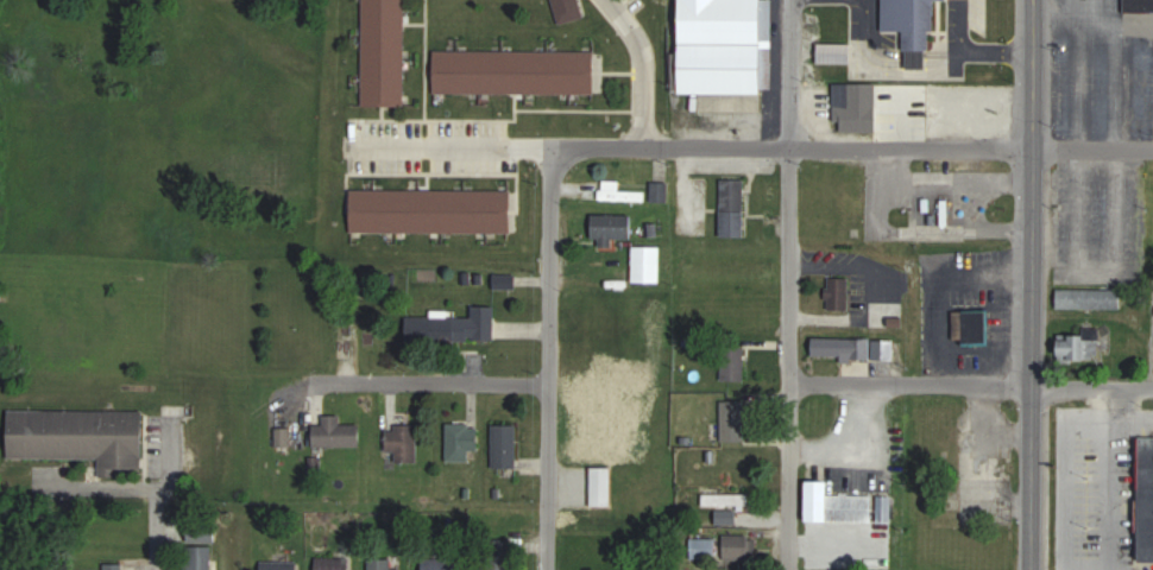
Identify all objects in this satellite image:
building: (1139, 6)
building: (568, 9)
road: (1092, 15)
building: (913, 28)
building: (384, 52)
building: (726, 52)
building: (833, 53)
road: (636, 66)
building: (515, 71)
road: (426, 72)
building: (858, 107)
road: (691, 146)
road: (1092, 148)
road: (947, 177)
road: (550, 179)
building: (660, 191)
building: (618, 192)
building: (733, 208)
building: (431, 210)
road: (983, 221)
building: (611, 228)
building: (648, 265)
road: (785, 285)
road: (1032, 285)
building: (839, 293)
building: (1090, 298)
building: (605, 324)
building: (454, 327)
building: (972, 327)
building: (1080, 347)
building: (853, 348)
building: (735, 362)
road: (434, 380)
road: (968, 386)
road: (549, 392)
building: (735, 420)
building: (336, 432)
building: (80, 436)
building: (462, 441)
building: (403, 442)
building: (505, 445)
building: (601, 487)
building: (726, 499)
building: (1146, 500)
building: (837, 503)
building: (884, 507)
building: (726, 515)
road: (146, 533)
building: (834, 544)
building: (702, 547)
building: (199, 557)
building: (499, 559)
building: (333, 563)
building: (442, 563)
building: (279, 564)
building: (382, 564)
building: (113, 565)

